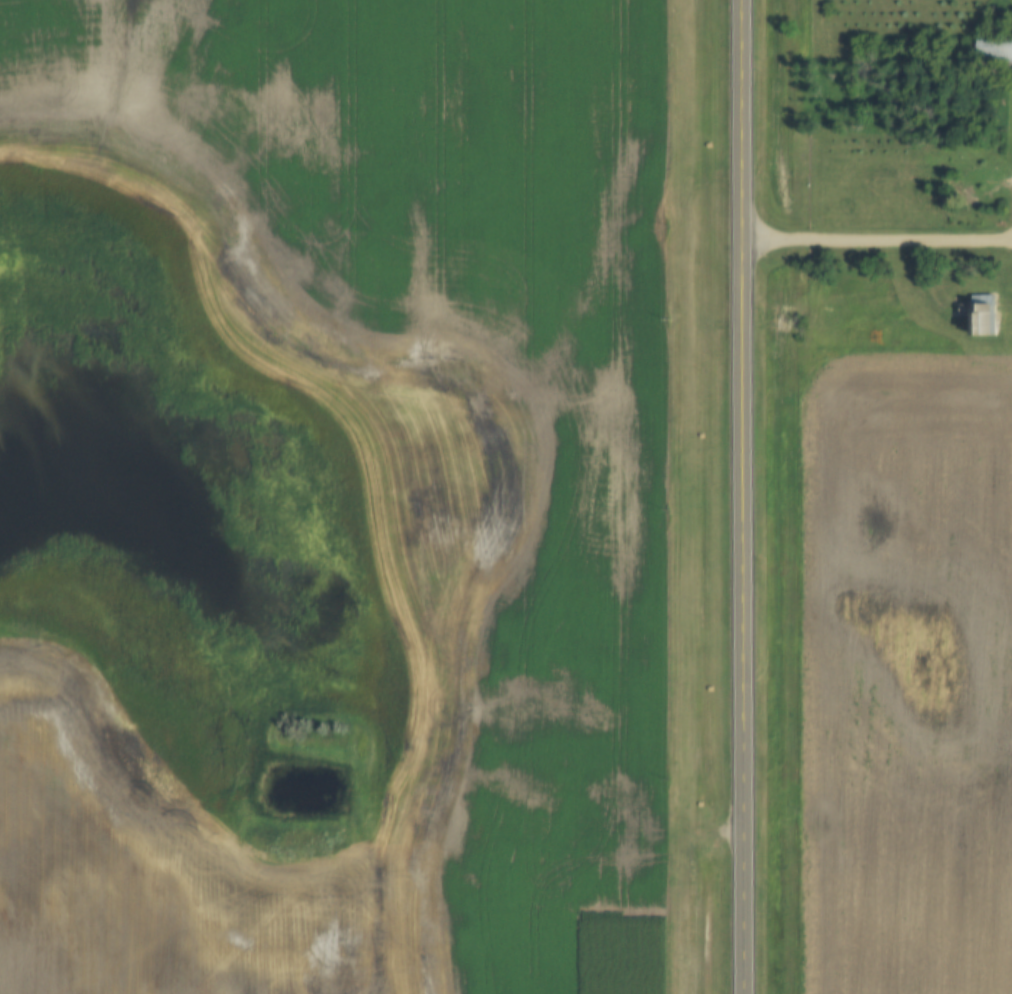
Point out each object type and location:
building: (994, 48)
building: (980, 180)
road: (878, 236)
building: (980, 315)
road: (744, 496)

